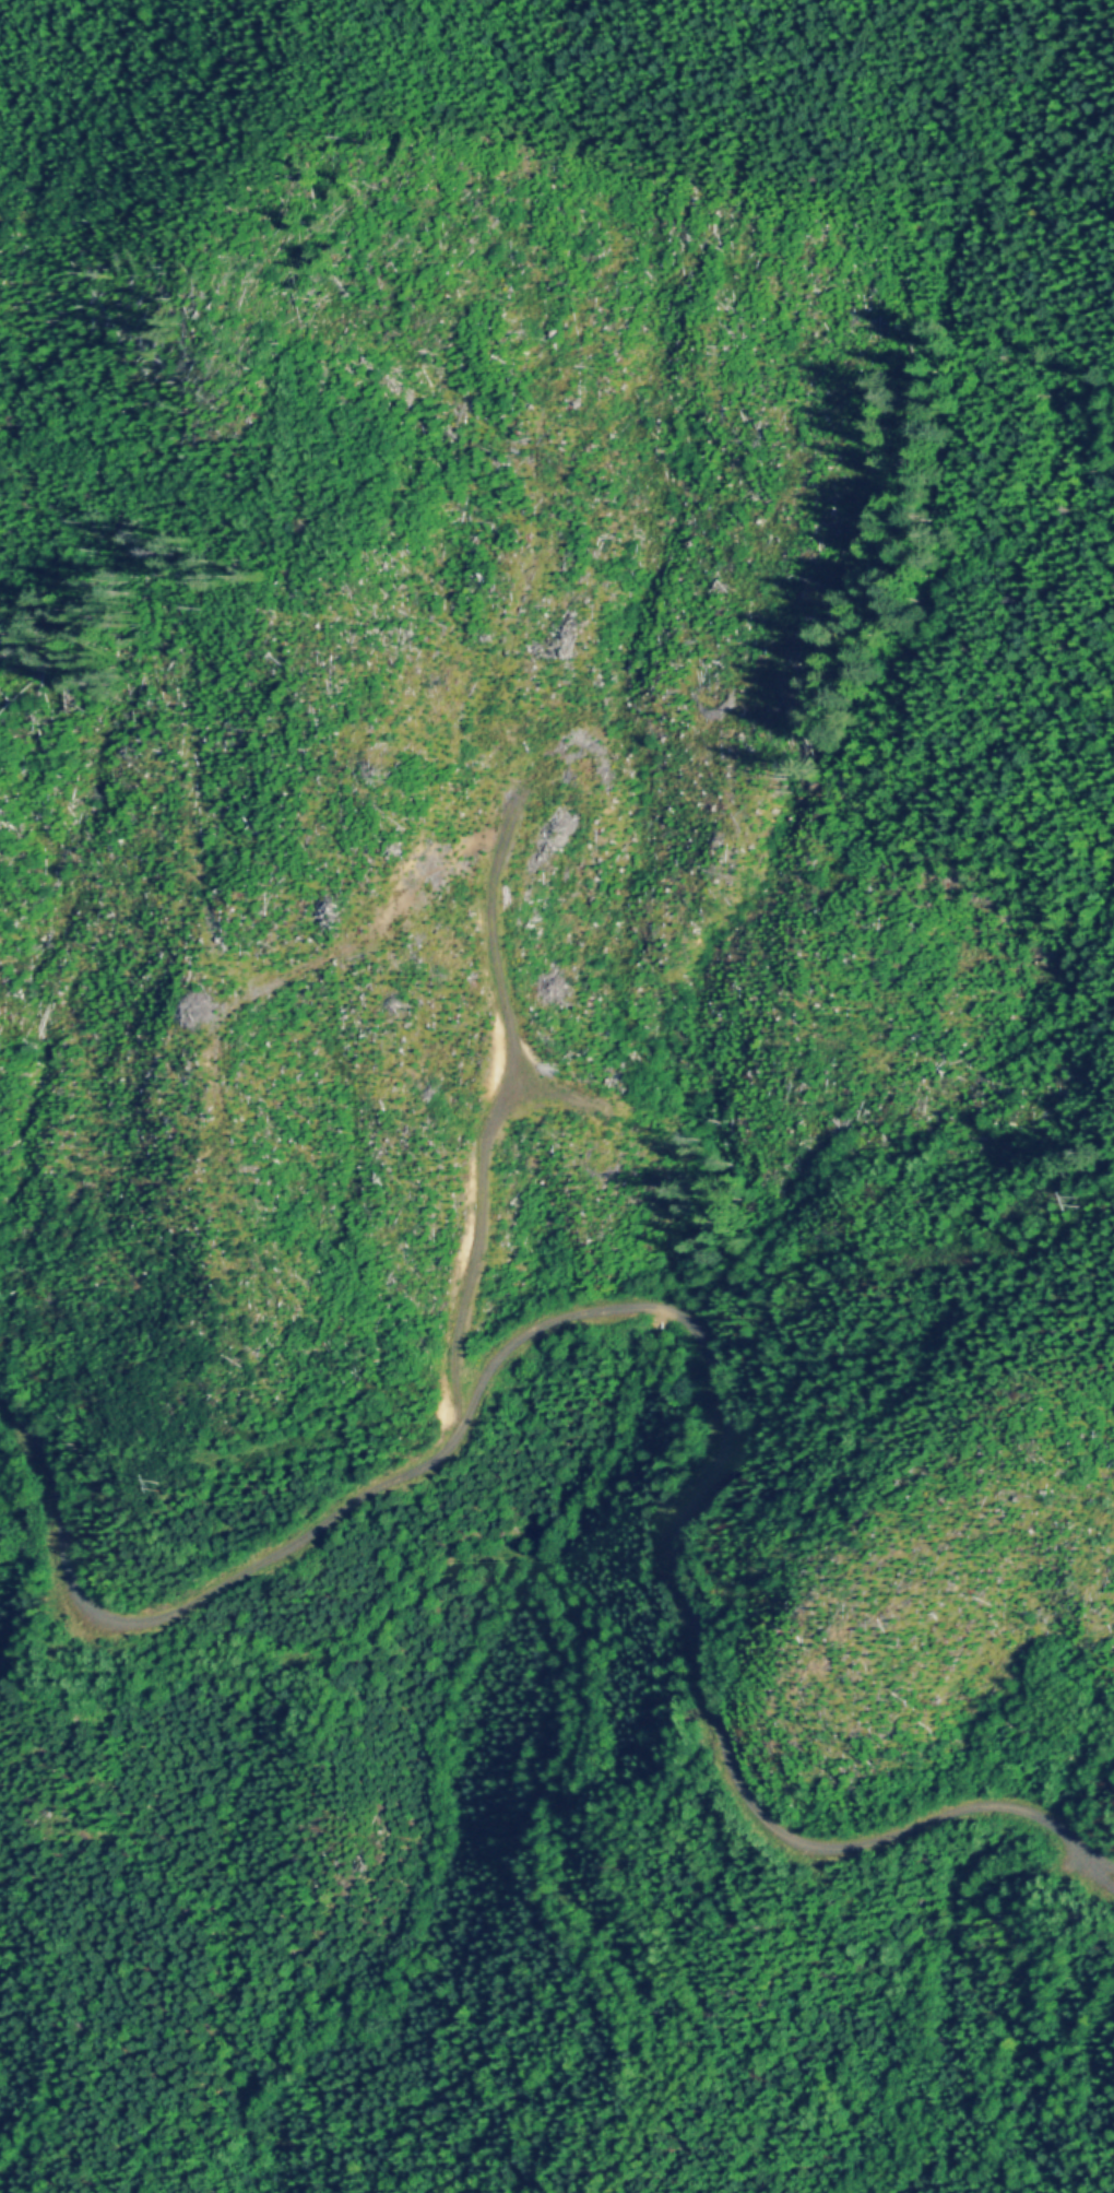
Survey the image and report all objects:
road: (514, 807)
road: (649, 1330)

